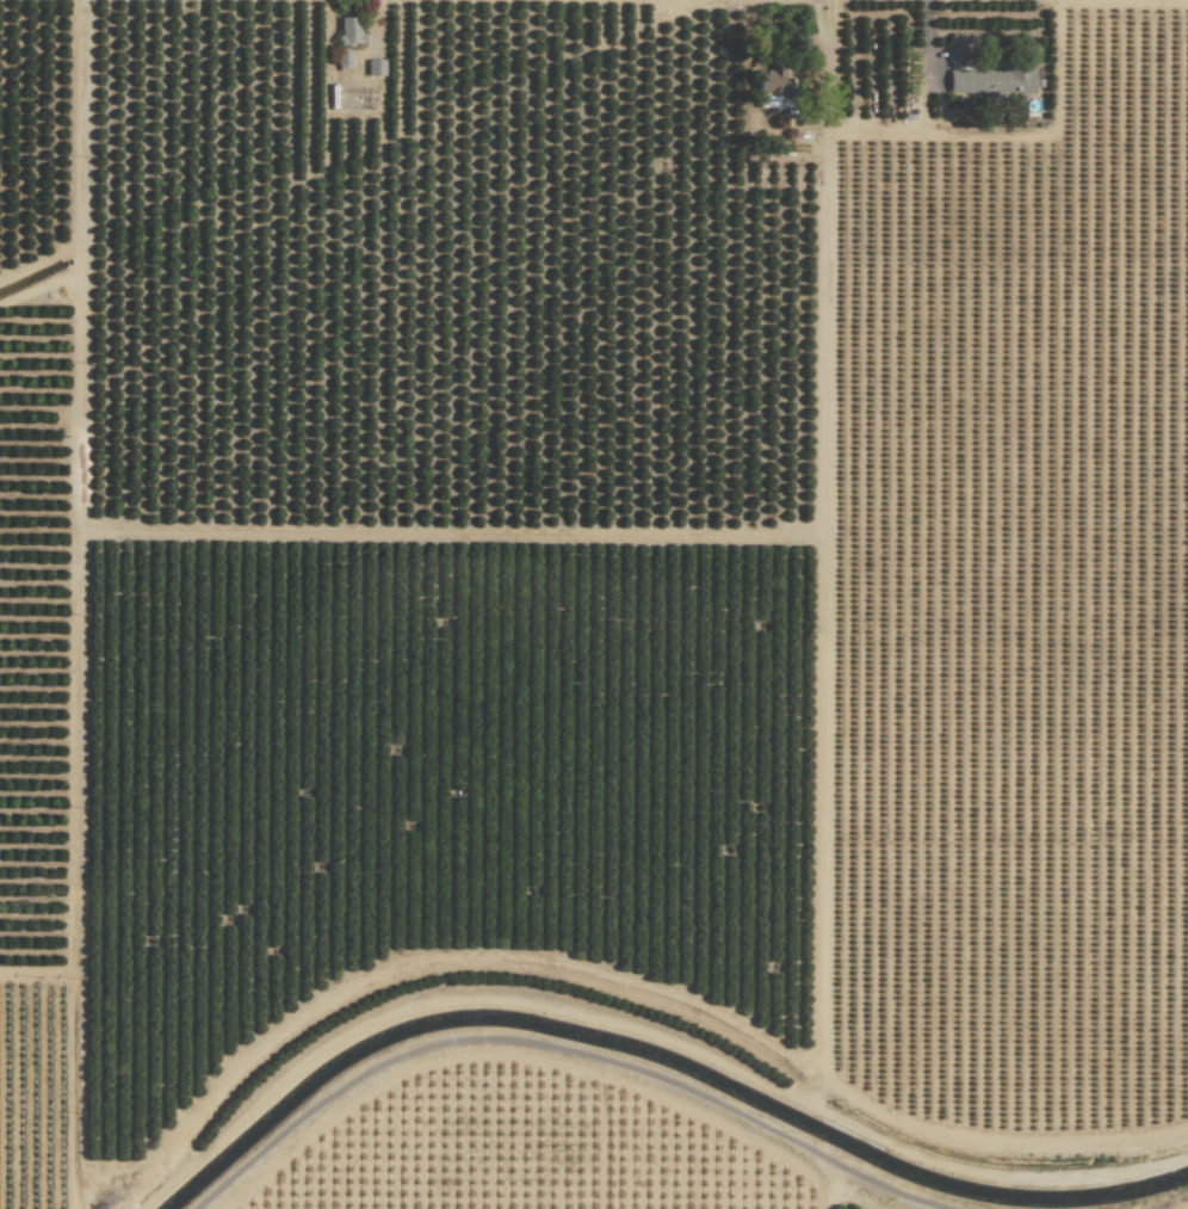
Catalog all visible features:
building: (349, 31)
building: (960, 49)
building: (344, 57)
road: (928, 66)
building: (375, 67)
building: (991, 80)
building: (769, 87)
road: (754, 98)
road: (938, 131)
road: (555, 1054)

